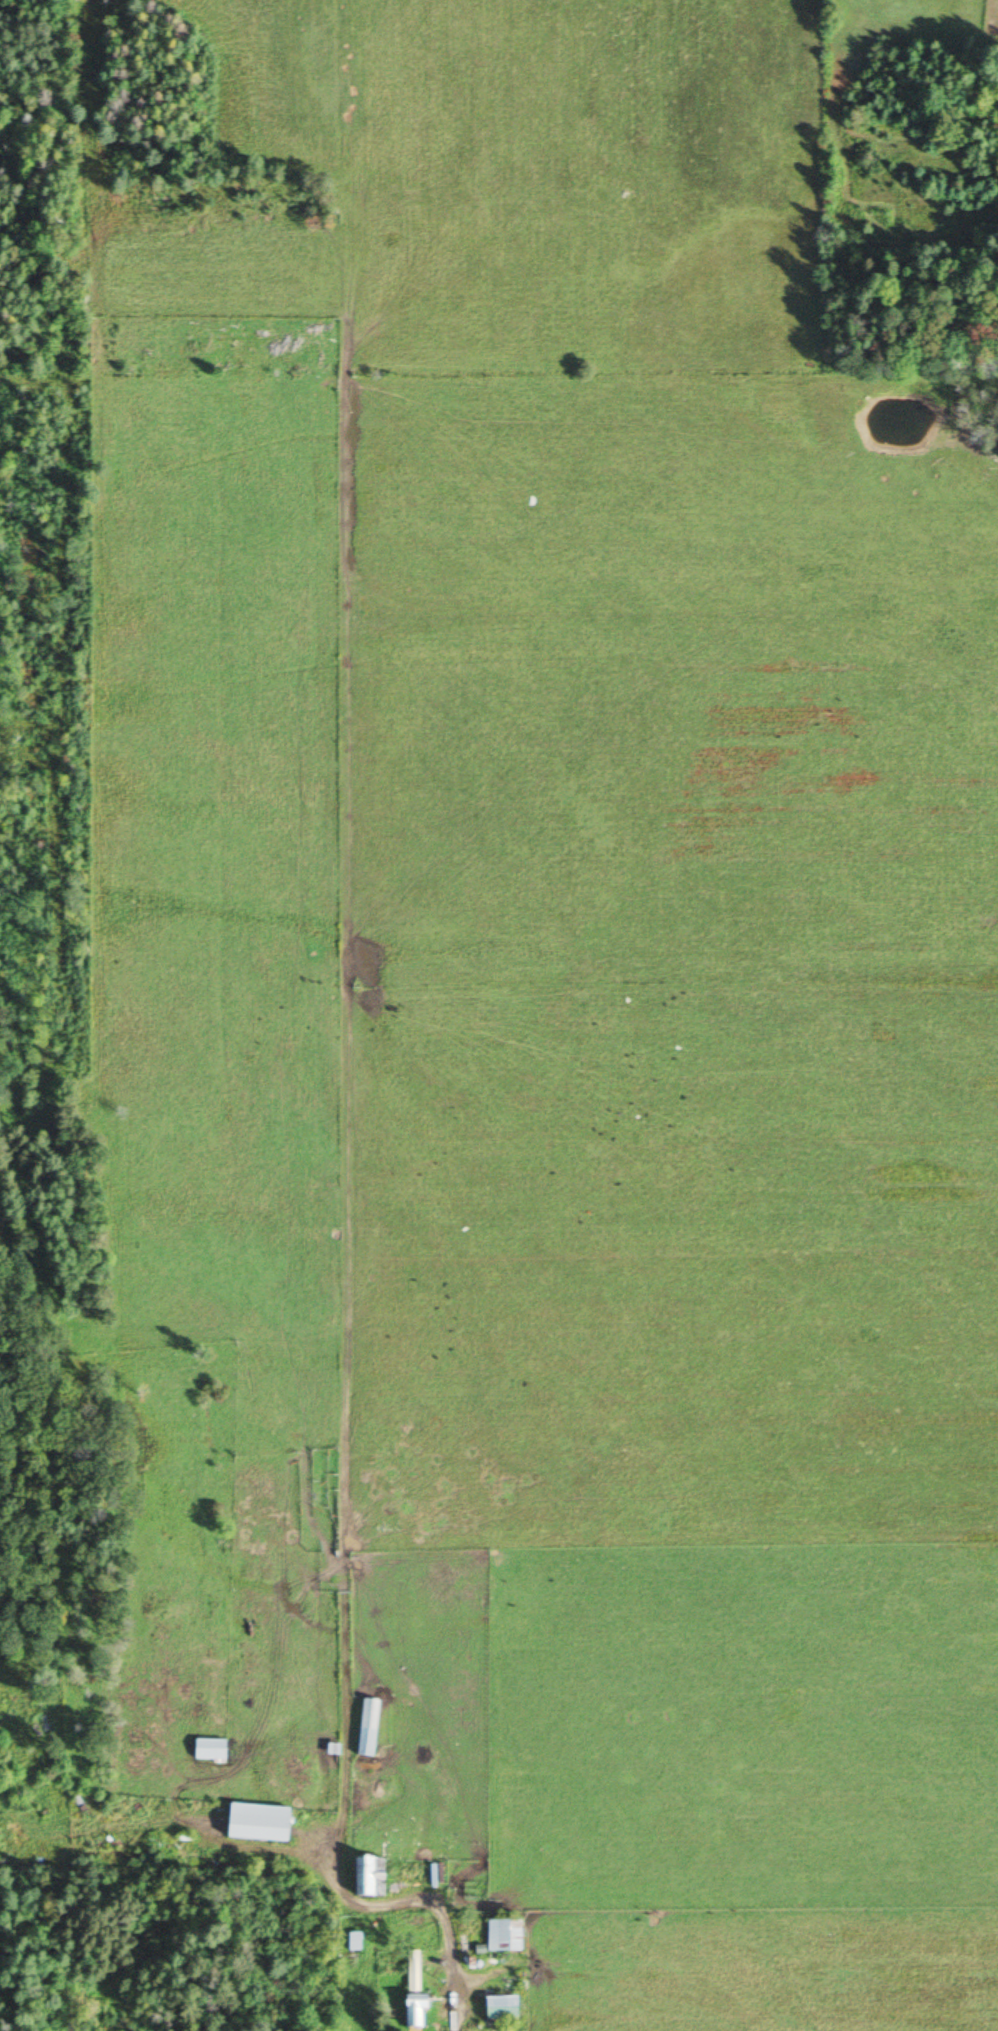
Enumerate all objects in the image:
building: (365, 1729)
building: (207, 1752)
building: (256, 1824)
building: (367, 1879)
building: (502, 1936)
building: (352, 1943)
building: (412, 1992)
building: (499, 2009)
road: (451, 2011)

